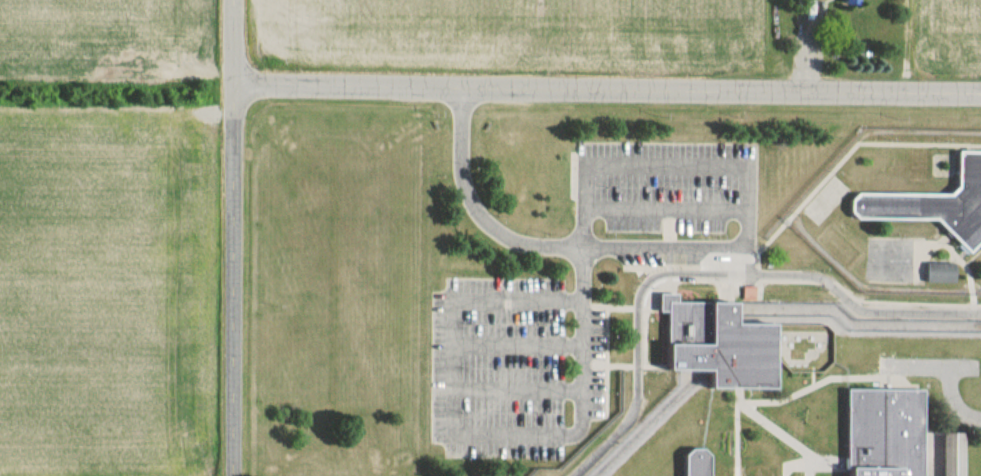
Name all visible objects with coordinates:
building: (842, 1)
road: (234, 41)
road: (607, 87)
building: (935, 202)
road: (542, 244)
building: (939, 272)
road: (233, 279)
road: (709, 282)
building: (708, 345)
building: (878, 431)
building: (687, 464)

